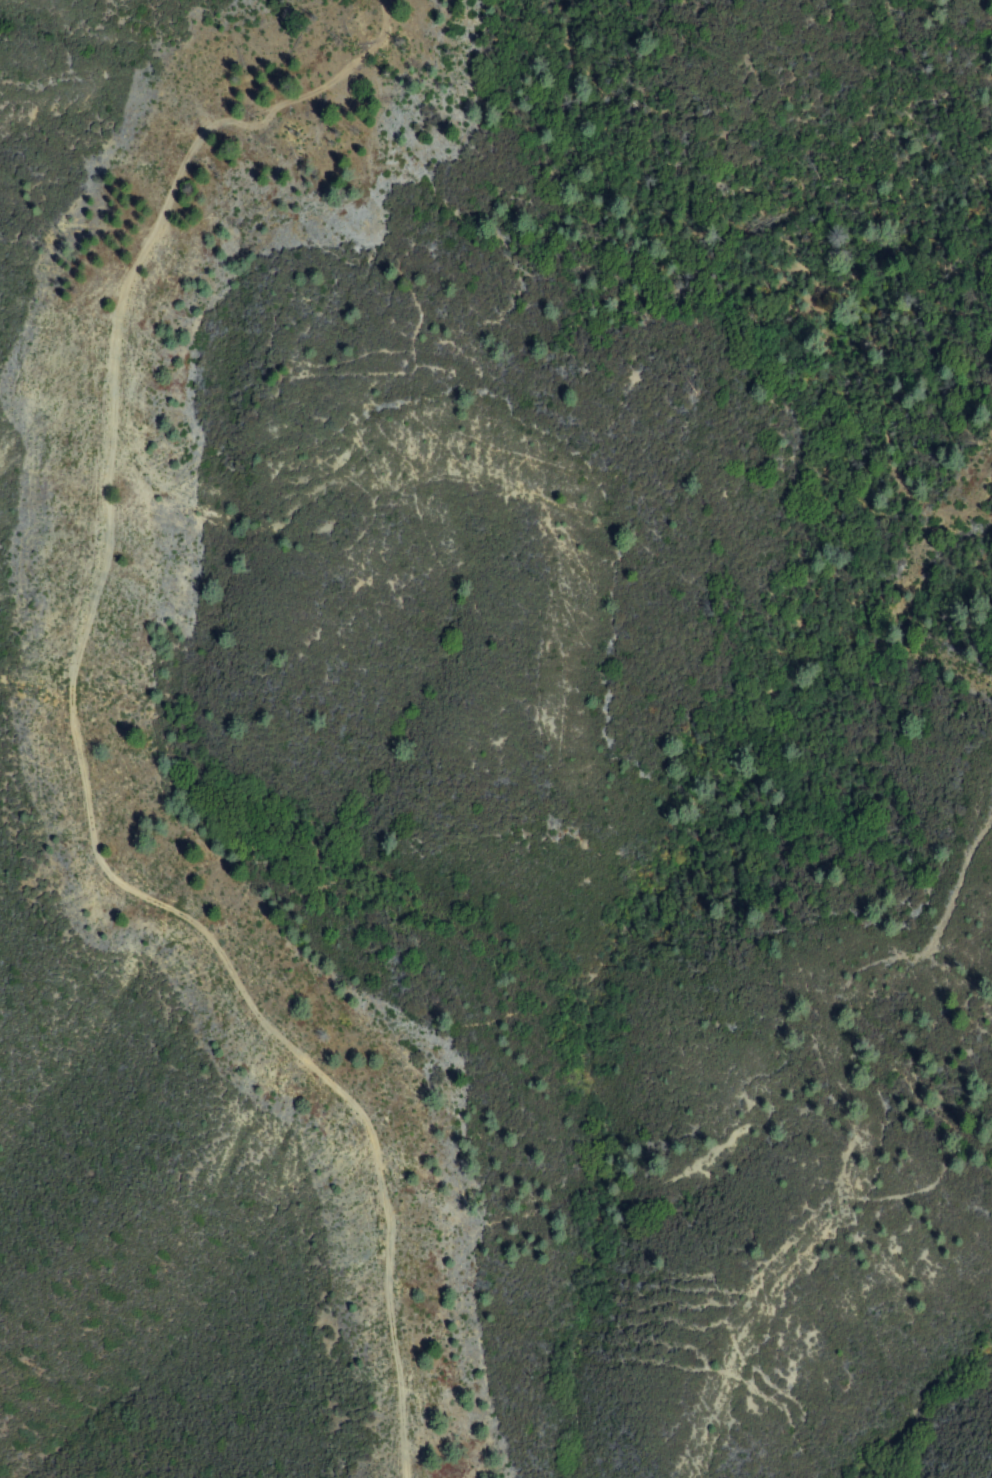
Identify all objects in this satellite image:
road: (961, 900)

